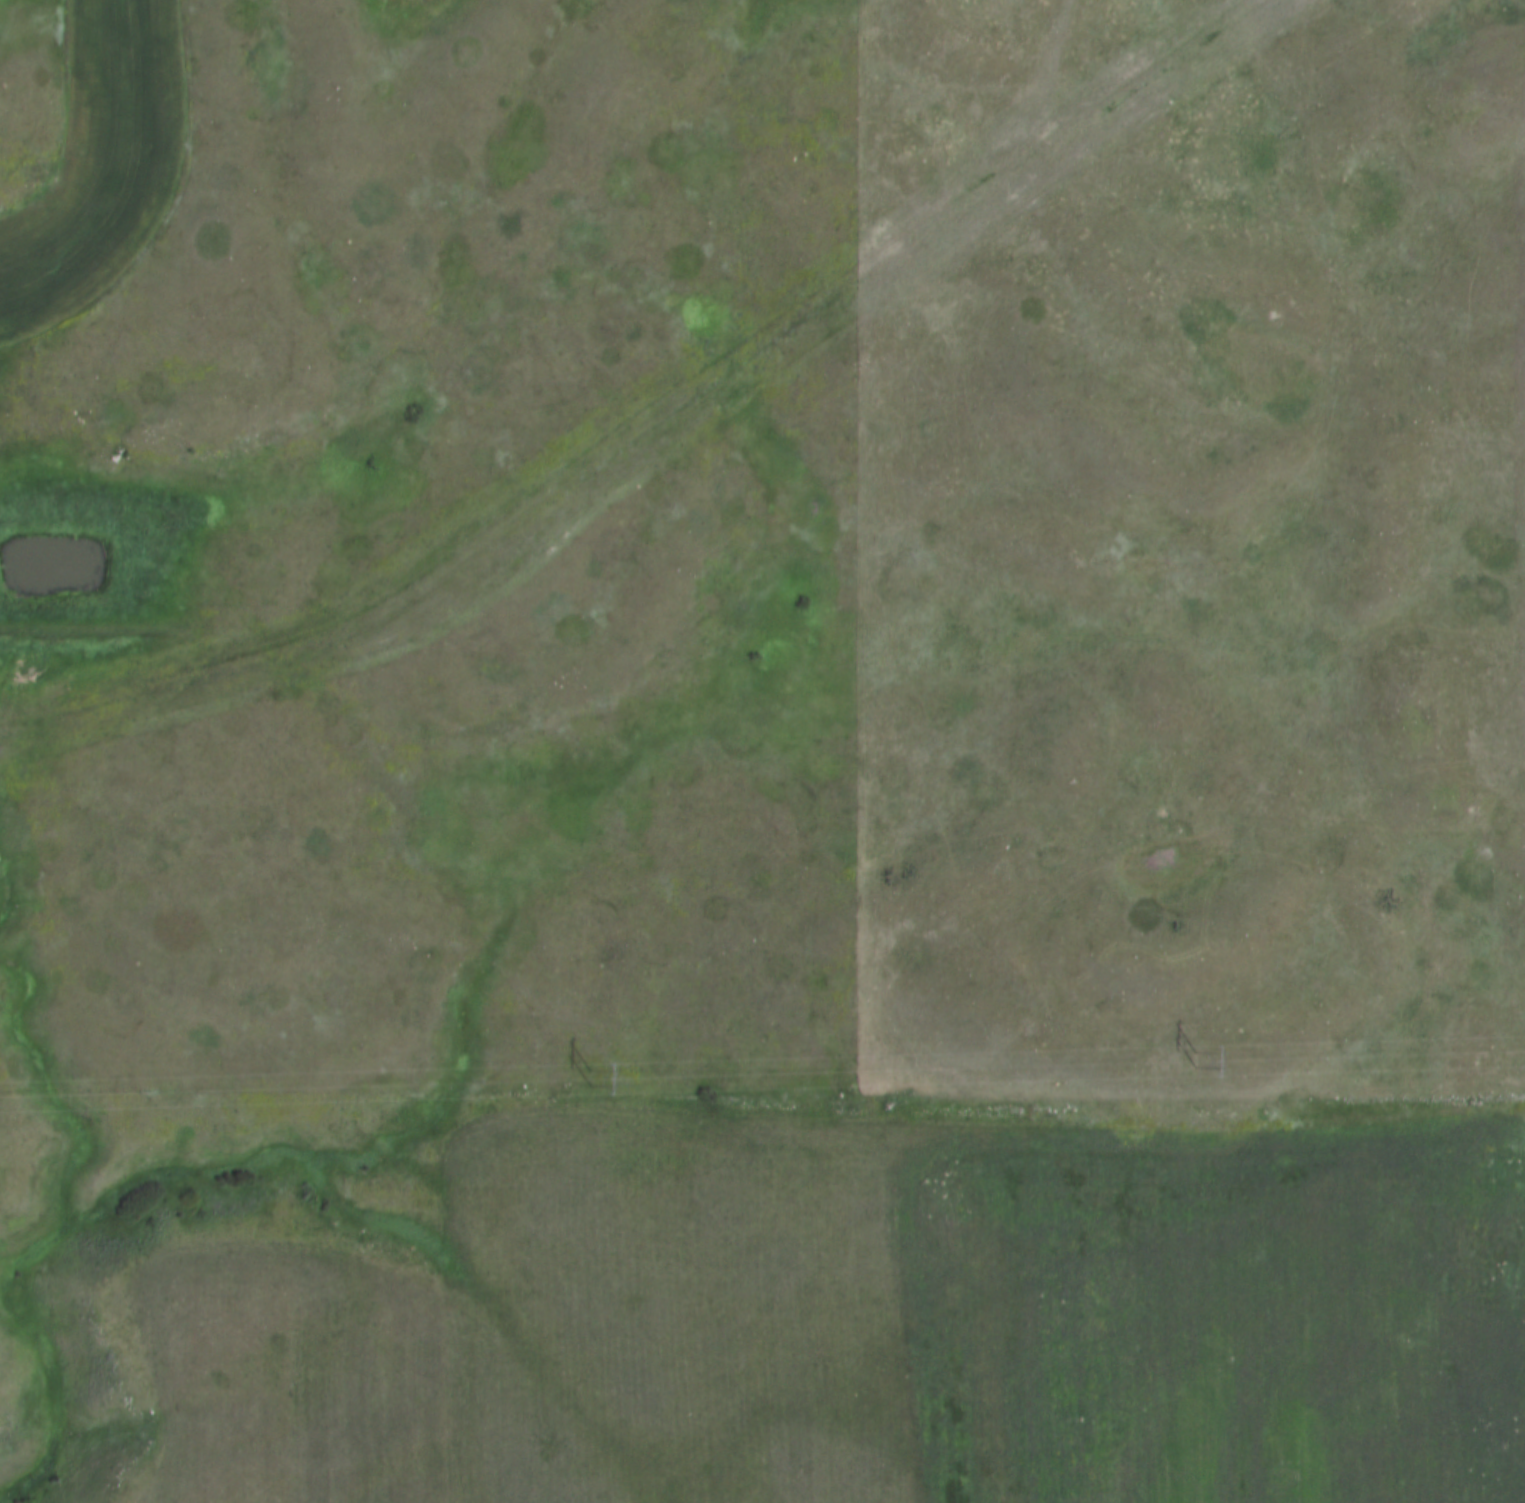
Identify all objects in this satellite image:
power tower: (1195, 1060)
power tower: (586, 1077)

